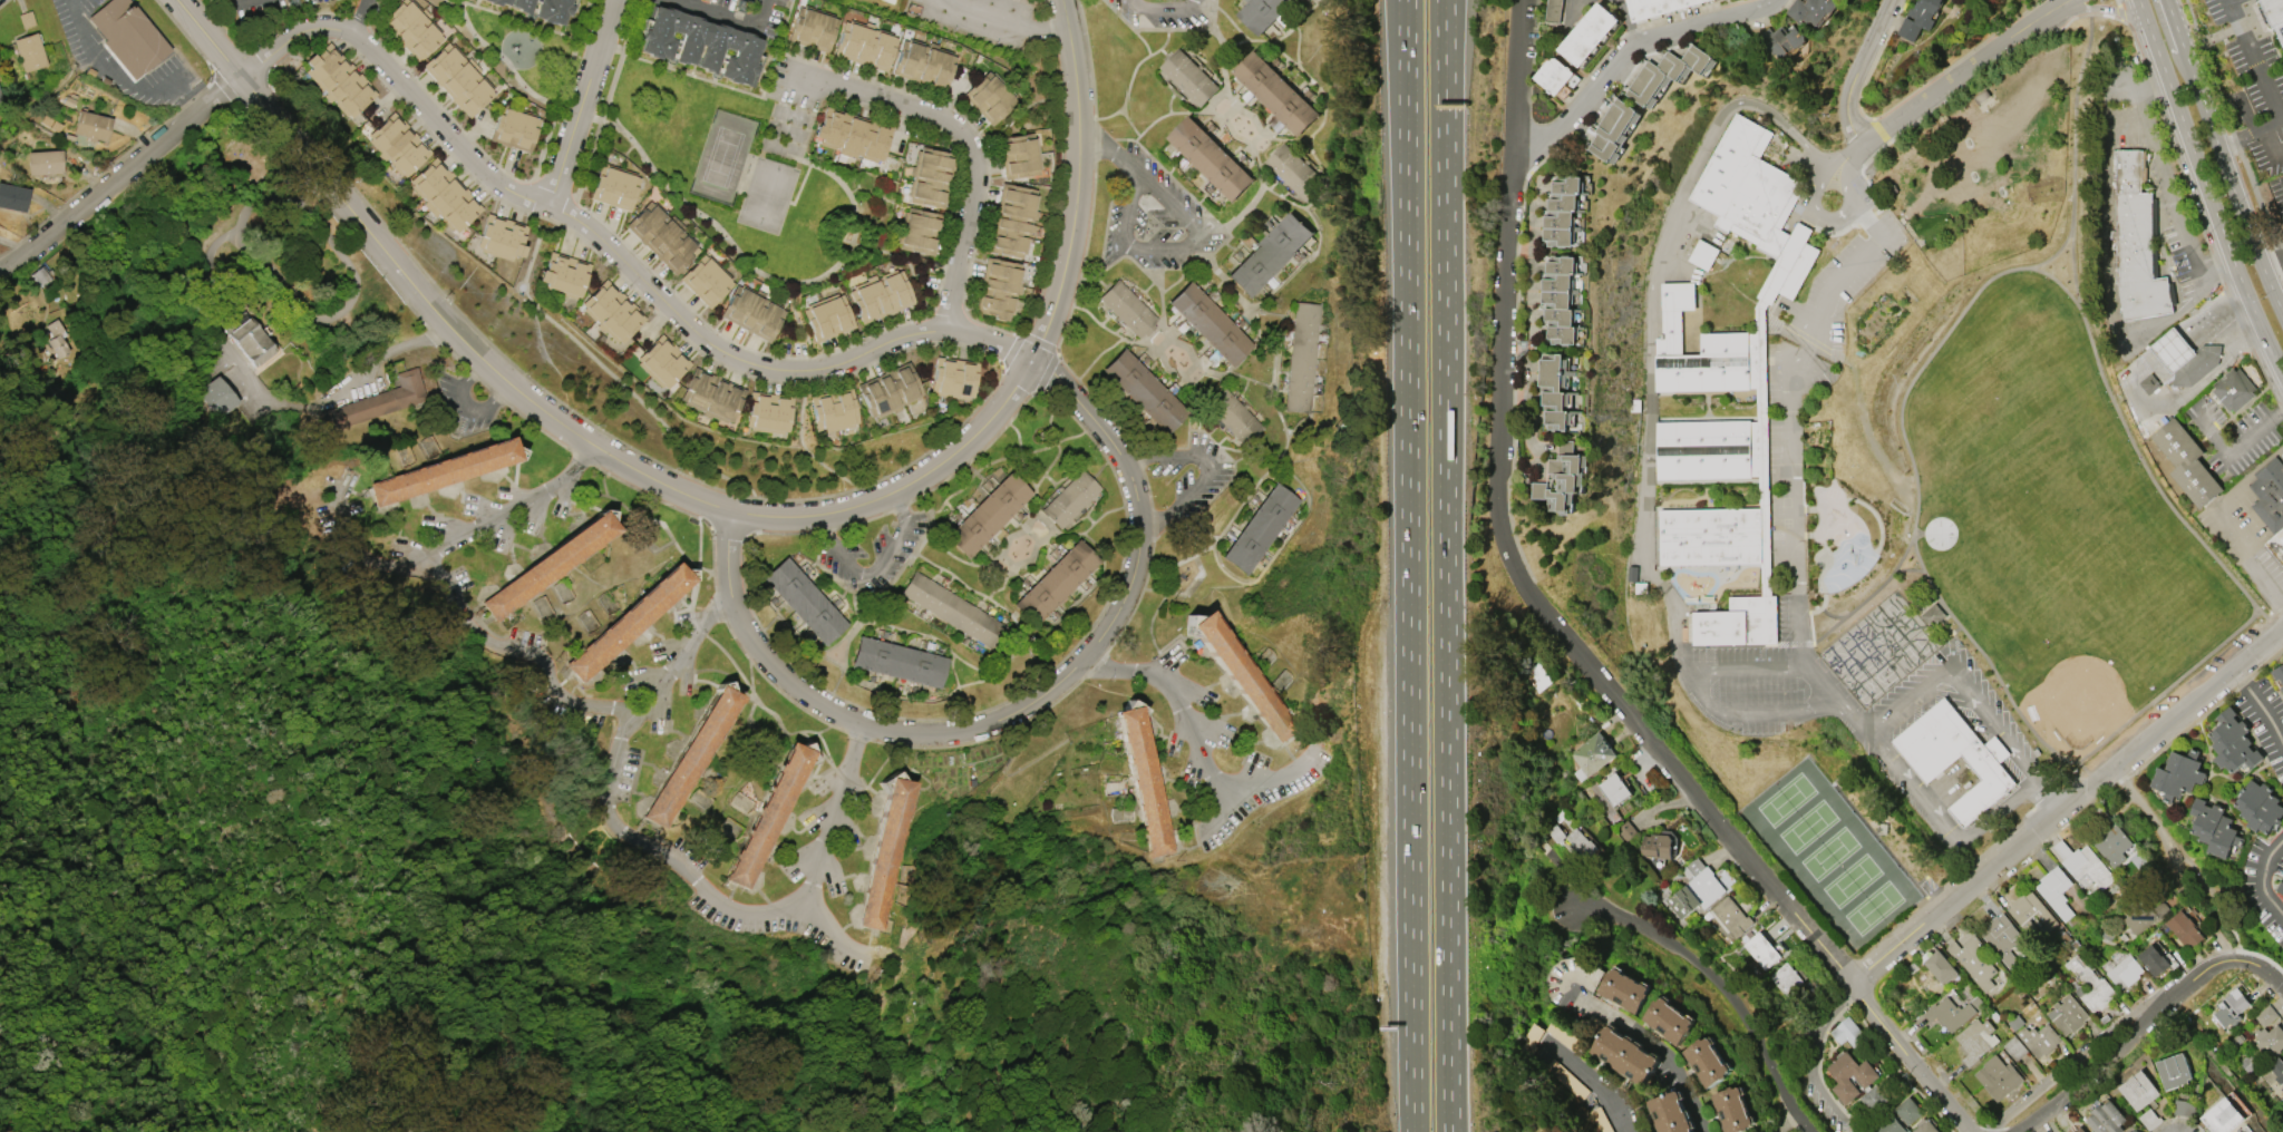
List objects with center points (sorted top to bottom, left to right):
road: (240, 1)
road: (1068, 1)
building: (497, 2)
road: (2058, 4)
building: (522, 6)
road: (1163, 7)
building: (1655, 7)
road: (2099, 7)
building: (1555, 10)
building: (1810, 10)
building: (552, 11)
parking lot: (1159, 11)
road: (1128, 12)
building: (1262, 12)
road: (359, 16)
road: (728, 16)
building: (1918, 18)
building: (2274, 18)
road: (1002, 20)
road: (1628, 20)
road: (220, 26)
building: (410, 29)
building: (812, 29)
road: (1166, 29)
road: (1442, 29)
road: (1446, 29)
building: (1590, 33)
road: (184, 35)
building: (128, 37)
building: (1782, 39)
road: (1141, 40)
road: (2180, 41)
building: (701, 45)
building: (864, 46)
road: (1629, 49)
building: (29, 52)
road: (256, 60)
building: (923, 64)
road: (250, 69)
road: (1859, 72)
building: (1667, 74)
road: (1516, 75)
building: (1555, 75)
road: (1957, 75)
road: (117, 76)
road: (173, 77)
building: (1188, 77)
building: (458, 79)
building: (338, 80)
road: (233, 81)
road: (1128, 85)
road: (227, 90)
road: (2269, 91)
building: (1274, 92)
building: (989, 98)
building: (0, 99)
road: (581, 104)
road: (2282, 118)
building: (91, 126)
building: (514, 128)
building: (1613, 129)
road: (2232, 133)
road: (2277, 134)
building: (852, 135)
road: (964, 143)
building: (398, 145)
road: (1864, 150)
road: (1109, 153)
building: (1018, 156)
building: (1209, 158)
building: (45, 163)
building: (1294, 173)
road: (1077, 174)
building: (930, 178)
road: (115, 180)
building: (1567, 184)
road: (2166, 186)
building: (614, 187)
road: (2206, 188)
building: (444, 196)
building: (13, 197)
road: (2236, 199)
building: (1563, 202)
building: (1756, 203)
road: (334, 216)
road: (533, 216)
building: (1558, 218)
building: (1011, 221)
building: (919, 232)
building: (662, 236)
building: (1558, 236)
building: (502, 237)
building: (2138, 245)
road: (1175, 248)
road: (614, 253)
building: (1269, 254)
building: (1703, 254)
building: (1561, 264)
road: (2273, 266)
building: (564, 275)
building: (38, 276)
building: (706, 280)
building: (1557, 282)
building: (998, 289)
building: (881, 295)
building: (1556, 299)
road: (2079, 301)
road: (303, 306)
road: (1646, 308)
building: (1127, 310)
building: (611, 312)
building: (751, 313)
building: (1558, 316)
building: (827, 318)
building: (1209, 324)
road: (1949, 328)
road: (1021, 334)
building: (1562, 334)
road: (434, 335)
building: (58, 339)
building: (249, 339)
building: (1701, 350)
road: (1503, 351)
building: (2170, 351)
road: (387, 352)
road: (1057, 352)
road: (455, 358)
road: (1022, 358)
building: (1302, 358)
building: (662, 362)
track: (2043, 364)
road: (602, 365)
road: (1040, 367)
building: (2195, 369)
building: (1553, 372)
road: (1046, 373)
road: (473, 374)
building: (953, 378)
road: (485, 386)
building: (2149, 386)
building: (890, 390)
building: (1144, 391)
building: (2233, 391)
building: (712, 396)
building: (217, 397)
road: (499, 398)
road: (2135, 398)
building: (1556, 399)
building: (376, 403)
road: (469, 408)
building: (833, 410)
building: (768, 413)
building: (1235, 418)
building: (1558, 418)
road: (560, 422)
road: (591, 423)
road: (540, 429)
road: (1787, 431)
road: (802, 443)
road: (2237, 446)
building: (1708, 449)
road: (978, 452)
road: (581, 458)
building: (2185, 465)
road: (1212, 471)
building: (443, 472)
building: (1563, 477)
road: (2155, 482)
road: (651, 496)
building: (2269, 496)
building: (1070, 499)
road: (898, 507)
park: (1982, 513)
building: (988, 515)
road: (2218, 518)
road: (728, 520)
road: (862, 521)
building: (1260, 529)
road: (827, 530)
road: (729, 531)
road: (783, 534)
building: (1710, 536)
road: (1912, 540)
road: (454, 545)
building: (2275, 548)
building: (547, 566)
road: (1408, 566)
road: (874, 568)
building: (1056, 583)
road: (1447, 595)
building: (805, 602)
building: (953, 609)
building: (1932, 615)
building: (629, 622)
building: (1738, 622)
park: (1901, 634)
park: (2078, 648)
road: (524, 653)
park: (1849, 653)
building: (898, 662)
road: (1946, 664)
road: (1991, 665)
road: (670, 670)
building: (2277, 672)
building: (1242, 676)
building: (1538, 676)
park: (1873, 681)
road: (2166, 687)
building: (2282, 687)
road: (1697, 692)
road: (2250, 692)
road: (2281, 695)
road: (1019, 713)
road: (1187, 718)
road: (2269, 719)
building: (2233, 742)
building: (1591, 754)
building: (690, 757)
building: (1955, 758)
road: (1853, 764)
road: (1677, 769)
building: (2178, 774)
road: (1272, 777)
building: (1143, 781)
road: (2091, 782)
building: (1613, 789)
road: (635, 799)
park: (1787, 801)
road: (2039, 801)
building: (2258, 806)
building: (767, 816)
road: (2149, 817)
park: (1808, 828)
building: (2214, 828)
building: (1625, 830)
building: (1555, 832)
road: (828, 835)
building: (1581, 842)
building: (1657, 843)
building: (2110, 843)
road: (1884, 846)
building: (884, 852)
park: (1830, 856)
building: (2083, 863)
road: (2263, 877)
park: (1852, 881)
building: (861, 882)
road: (707, 887)
building: (2280, 887)
building: (1694, 888)
building: (2054, 891)
park: (1874, 907)
road: (2218, 910)
building: (2030, 911)
building: (1729, 916)
building: (2144, 916)
building: (2184, 929)
building: (2002, 938)
building: (1760, 949)
building: (2154, 959)
road: (1875, 960)
building: (1973, 960)
building: (1940, 966)
road: (2261, 966)
building: (2124, 972)
road: (1709, 975)
building: (1785, 978)
building: (2090, 985)
building: (1623, 989)
road: (1816, 1005)
building: (2231, 1007)
building: (1952, 1012)
building: (2067, 1014)
building: (1668, 1021)
road: (846, 1026)
building: (1848, 1033)
building: (1564, 1035)
building: (1531, 1038)
building: (1974, 1040)
building: (2038, 1040)
building: (2270, 1041)
road: (2126, 1042)
road: (1653, 1044)
building: (2013, 1047)
road: (2083, 1048)
building: (1624, 1055)
road: (1913, 1057)
road: (1810, 1058)
building: (1706, 1062)
building: (2276, 1070)
building: (2174, 1071)
building: (1998, 1076)
building: (1566, 1080)
building: (1866, 1080)
road: (1593, 1086)
building: (2282, 1089)
building: (2138, 1090)
building: (1874, 1097)
building: (2185, 1107)
building: (1731, 1110)
building: (1908, 1110)
building: (1670, 1113)
building: (2222, 1116)
road: (1787, 1118)
road: (1807, 1118)
building: (2106, 1118)
building: (2149, 1119)
building: (1599, 1120)
building: (1891, 1125)
building: (1925, 1125)
building: (2079, 1129)
building: (2134, 1131)

